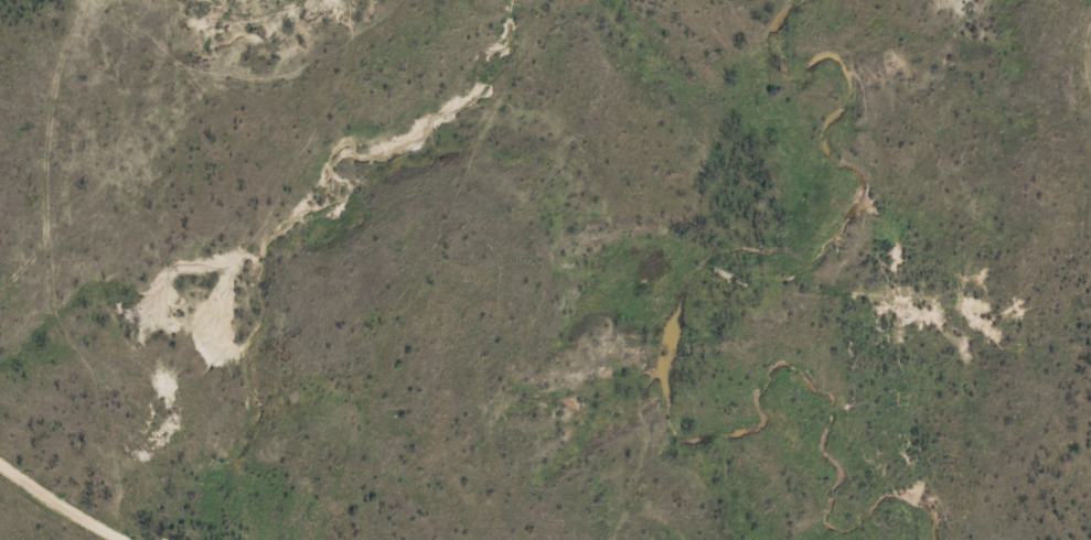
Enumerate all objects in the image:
road: (46, 521)

